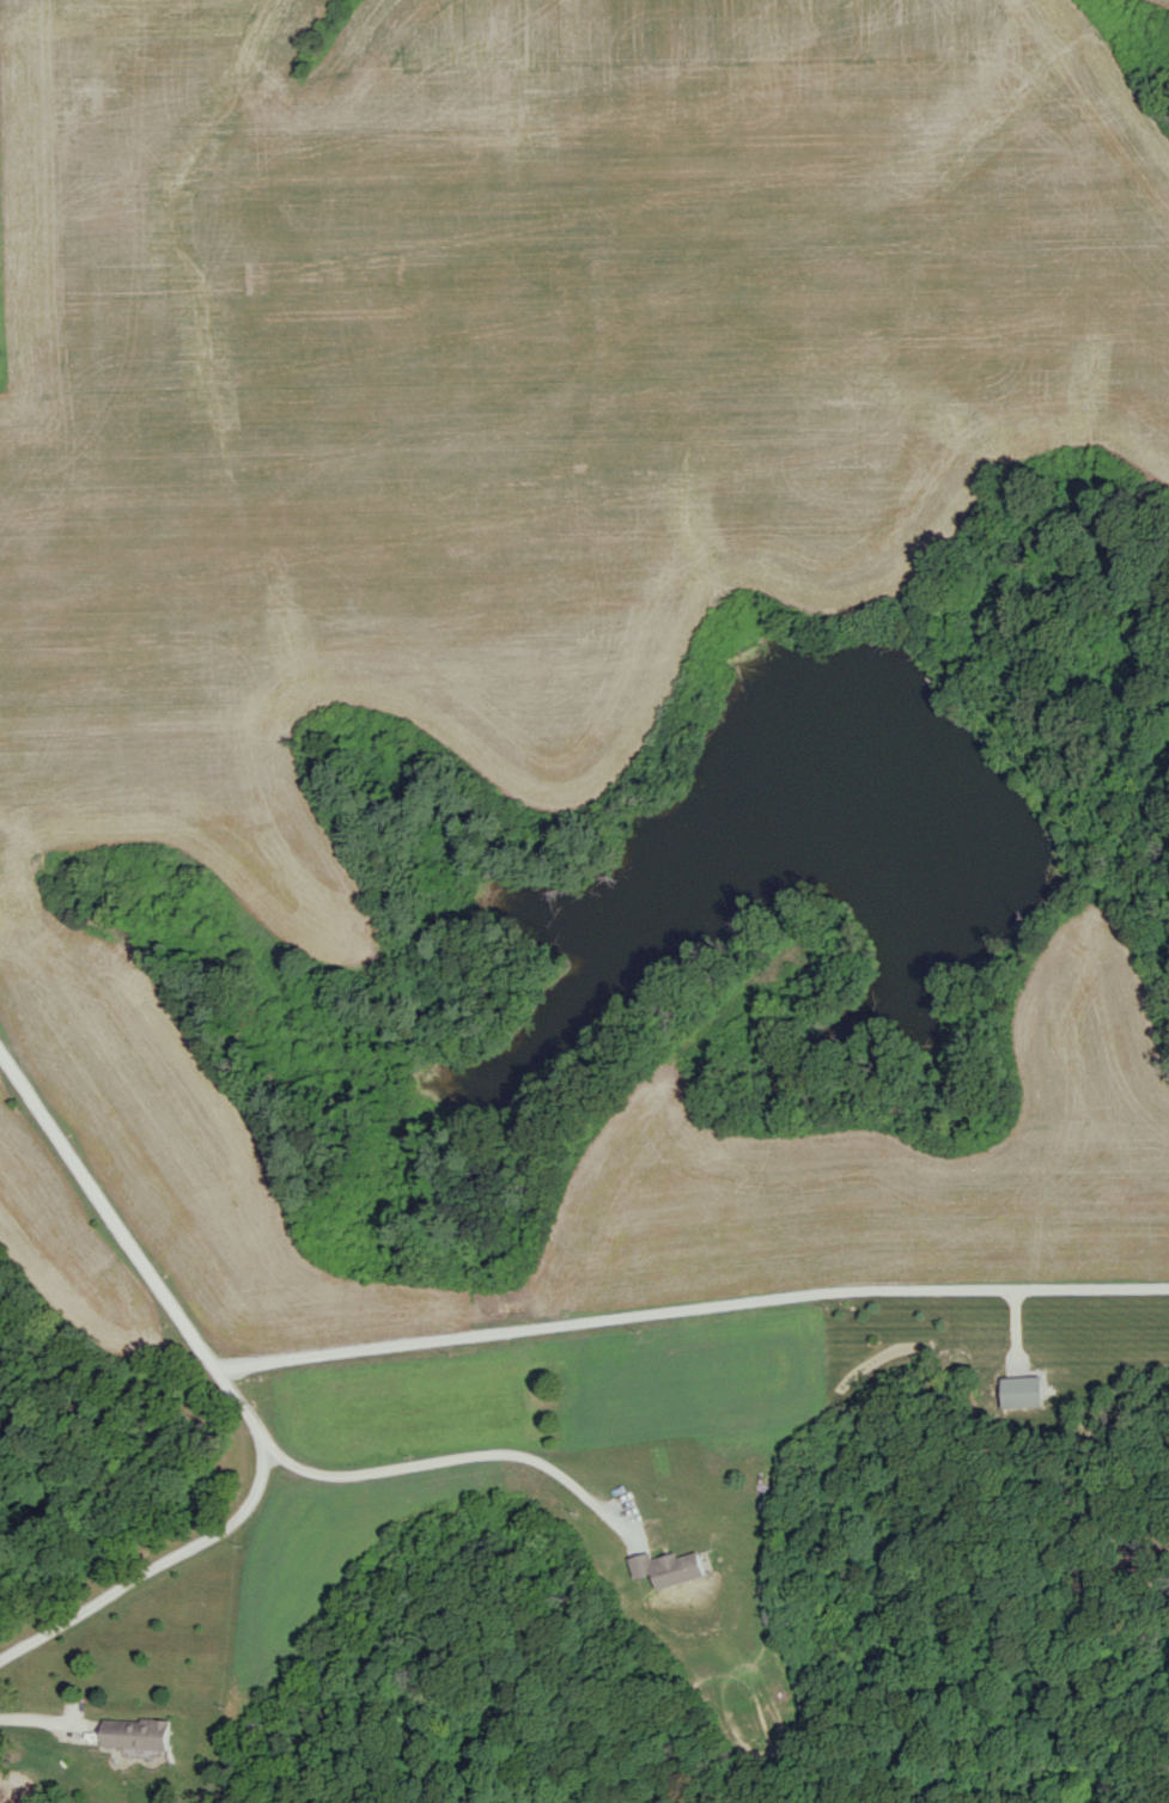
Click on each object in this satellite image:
road: (688, 1305)
building: (1019, 1391)
road: (230, 1394)
road: (456, 1454)
building: (666, 1569)
road: (39, 1717)
building: (133, 1734)

